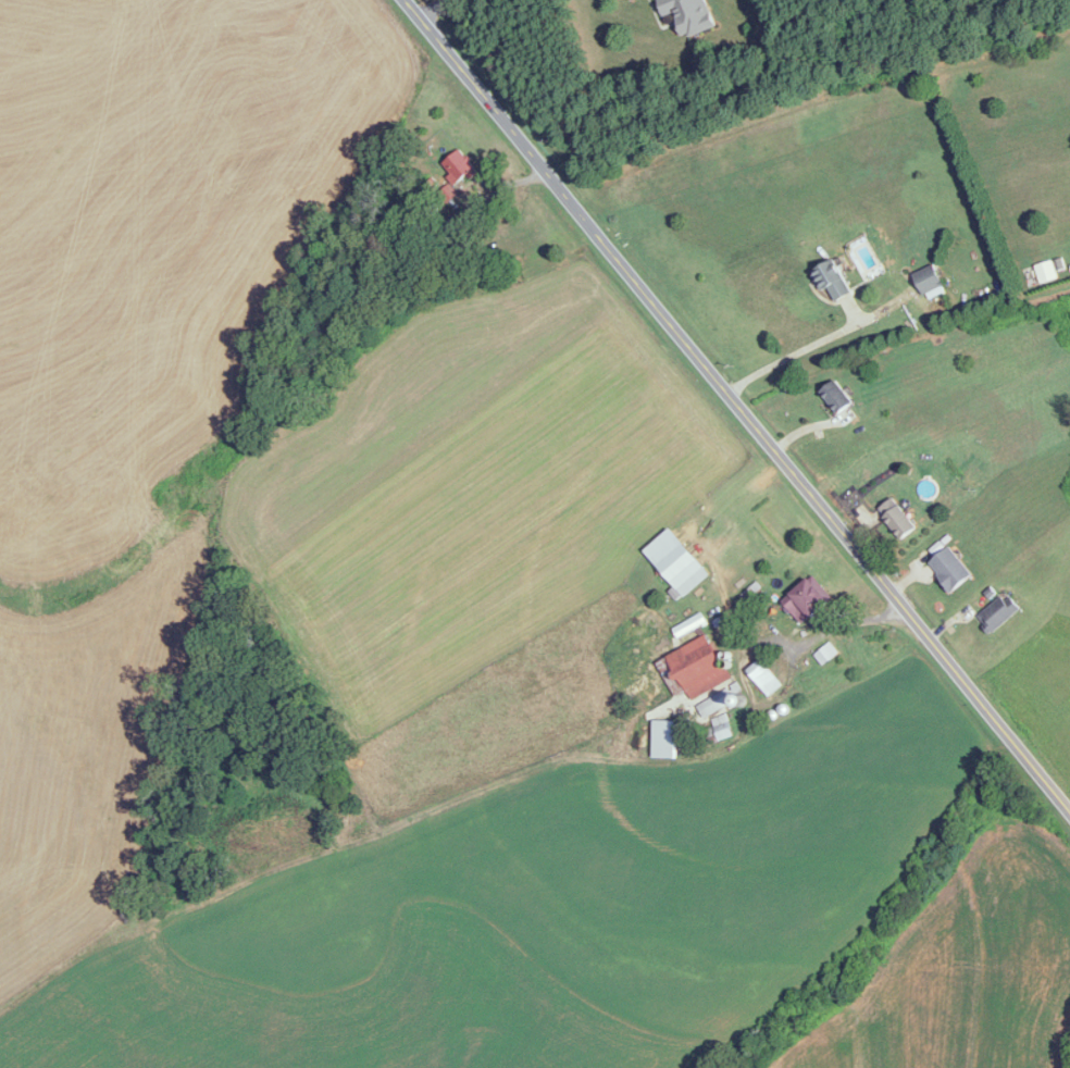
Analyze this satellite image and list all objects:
road: (431, 8)
building: (688, 15)
building: (458, 167)
building: (455, 236)
building: (830, 278)
building: (926, 280)
road: (793, 353)
building: (834, 396)
road: (737, 406)
building: (896, 518)
building: (949, 569)
building: (682, 570)
building: (805, 599)
building: (997, 612)
road: (809, 641)
building: (696, 668)
building: (766, 679)
building: (718, 703)

